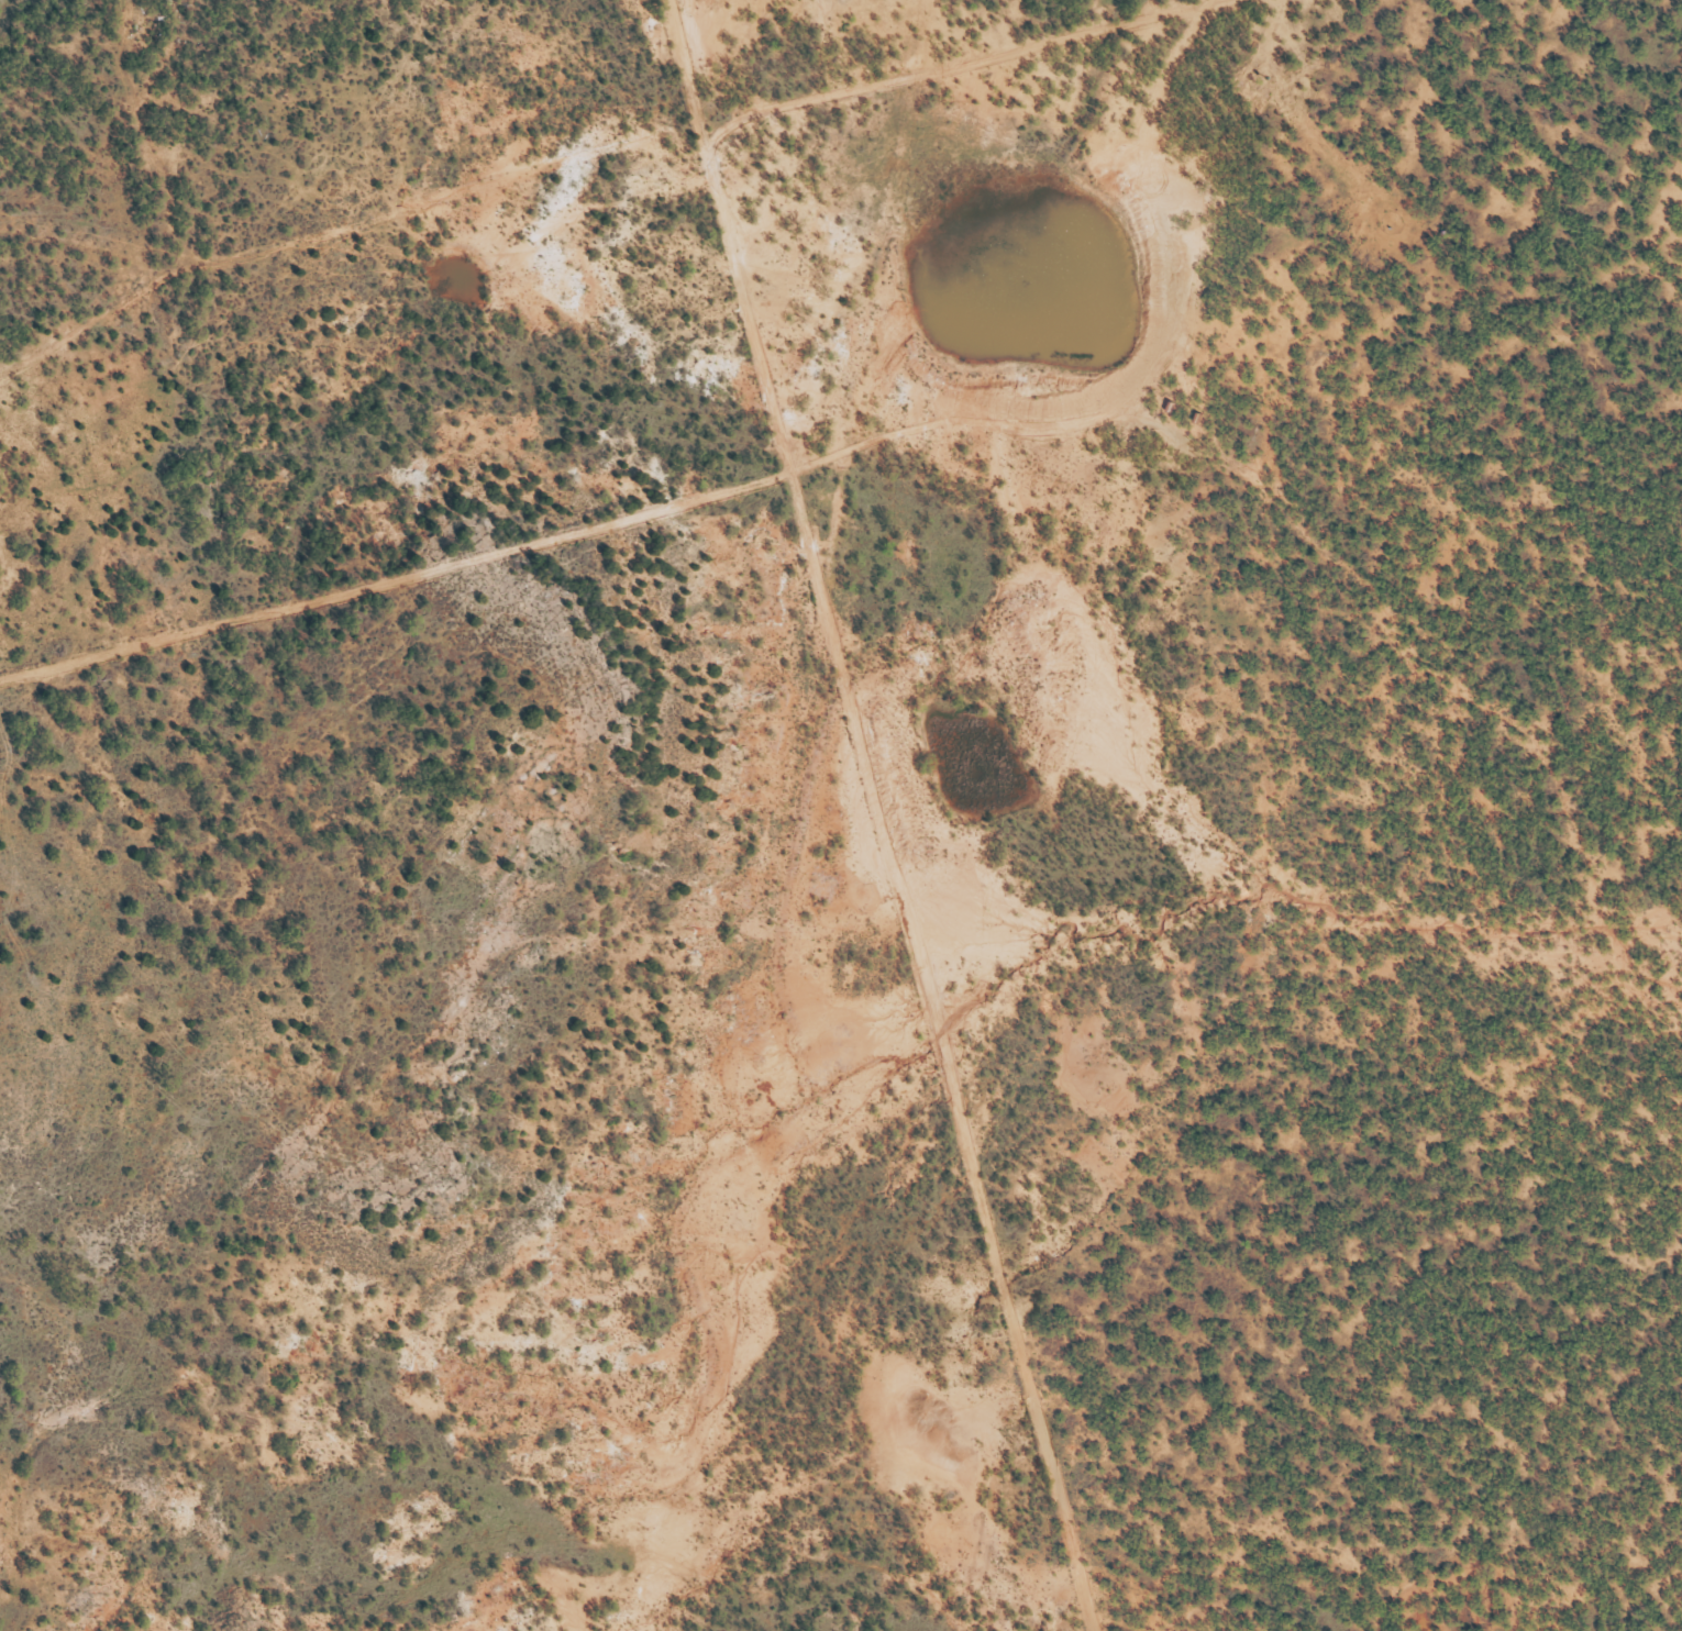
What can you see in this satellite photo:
road: (314, 1123)
road: (403, 1457)

